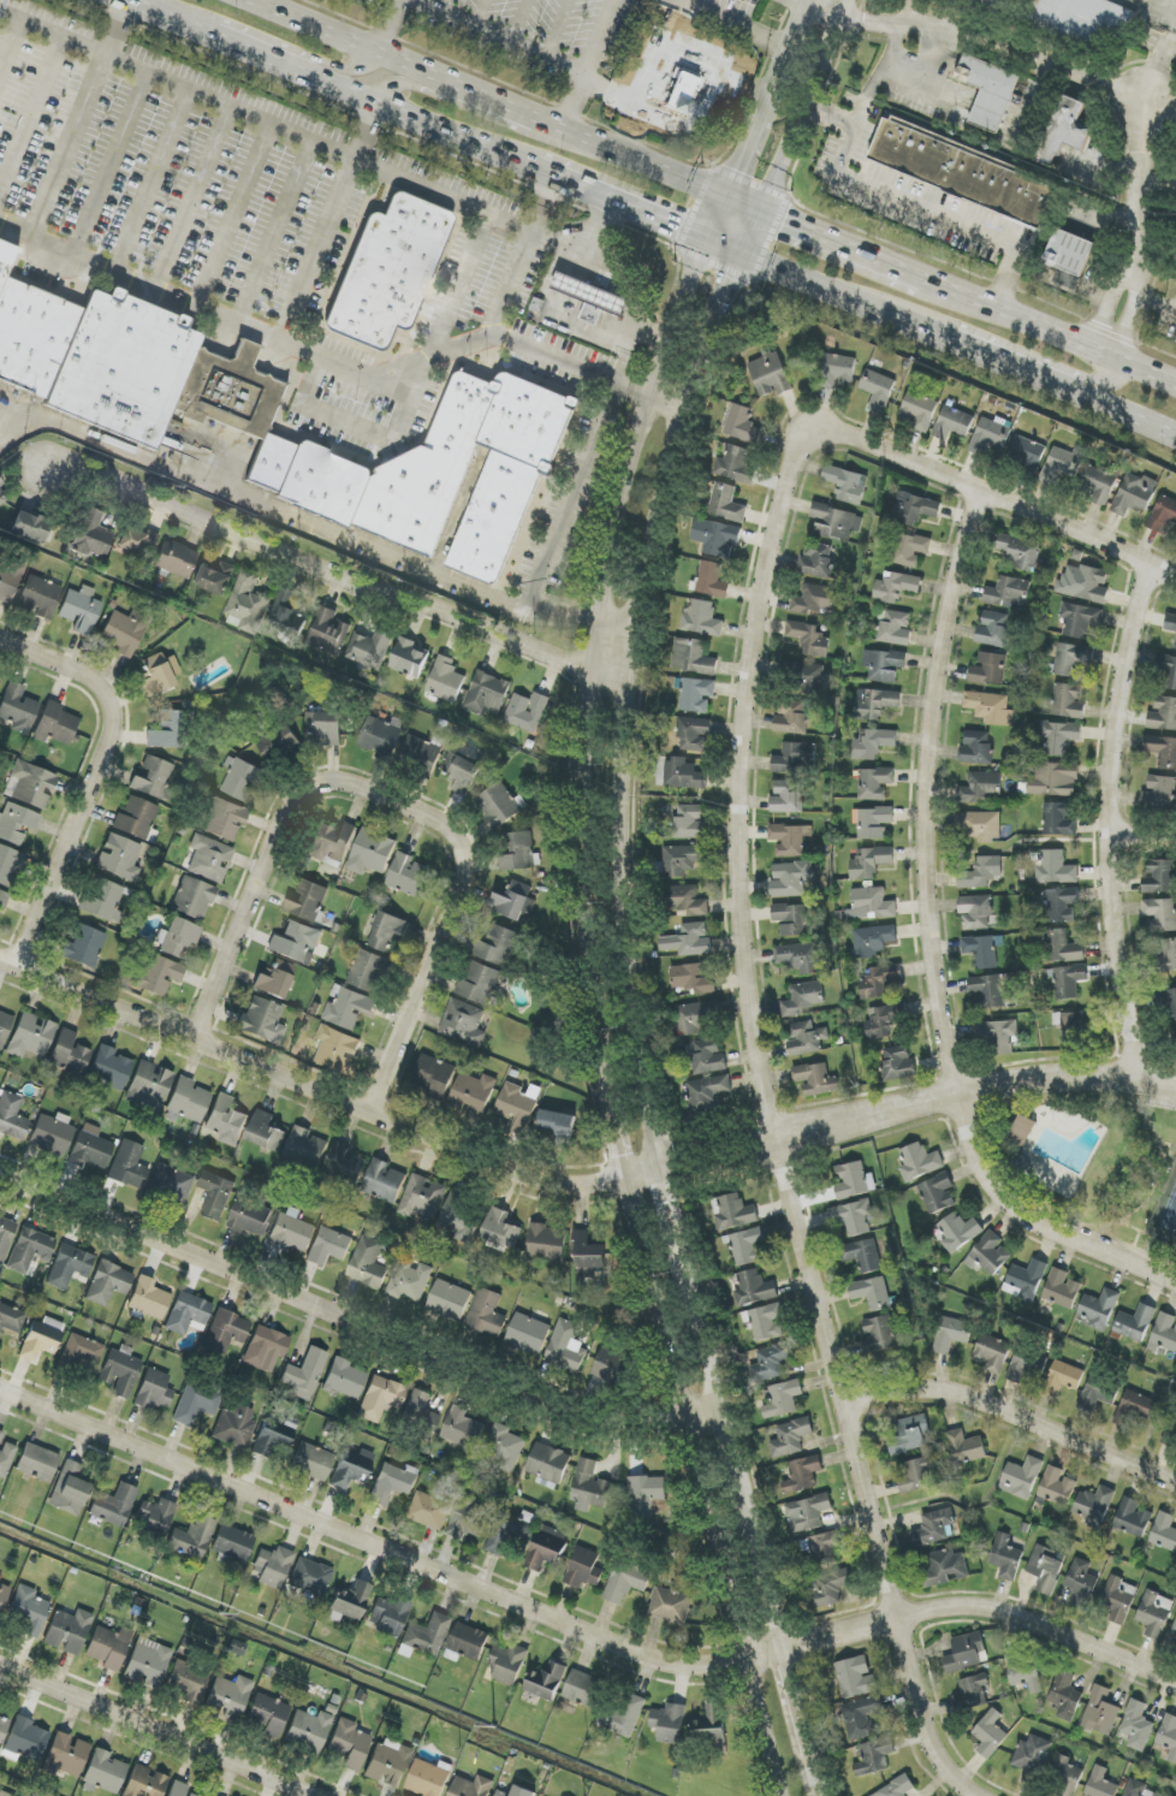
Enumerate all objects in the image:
building: (988, 2)
road: (1160, 5)
road: (910, 10)
road: (818, 11)
road: (844, 11)
road: (168, 18)
building: (1088, 20)
road: (735, 23)
road: (794, 23)
road: (390, 25)
road: (115, 26)
road: (500, 37)
road: (1000, 38)
road: (11, 47)
road: (368, 47)
road: (245, 52)
road: (1157, 59)
road: (331, 64)
road: (594, 64)
road: (776, 70)
road: (880, 72)
building: (988, 91)
road: (426, 94)
road: (510, 107)
road: (1164, 109)
road: (30, 111)
road: (406, 117)
road: (800, 117)
road: (367, 130)
building: (1065, 130)
road: (69, 140)
road: (332, 144)
road: (630, 158)
road: (111, 165)
road: (735, 168)
traffic signals: (736, 168)
road: (152, 179)
road: (1157, 185)
road: (1139, 188)
road: (195, 195)
road: (909, 200)
road: (743, 203)
road: (620, 207)
road: (236, 212)
traffic signals: (786, 221)
traffic signals: (675, 231)
road: (273, 235)
road: (844, 244)
road: (725, 251)
road: (315, 253)
building: (1069, 253)
building: (4, 257)
building: (388, 272)
road: (617, 275)
traffic signals: (735, 280)
road: (752, 280)
road: (732, 286)
building: (590, 294)
road: (837, 296)
building: (595, 307)
road: (1106, 307)
road: (1127, 315)
road: (1052, 330)
building: (31, 338)
road: (435, 338)
road: (445, 352)
road: (982, 355)
building: (121, 367)
building: (837, 371)
building: (770, 373)
road: (1082, 378)
building: (878, 390)
building: (230, 395)
road: (402, 403)
road: (1104, 409)
building: (919, 410)
road: (328, 413)
building: (954, 423)
building: (742, 425)
building: (990, 437)
building: (1027, 452)
building: (1063, 463)
building: (737, 464)
building: (435, 474)
building: (0, 484)
building: (847, 484)
building: (1098, 485)
road: (581, 490)
building: (1134, 494)
building: (1, 499)
road: (996, 499)
building: (726, 503)
building: (914, 509)
building: (1163, 514)
road: (302, 520)
building: (836, 522)
building: (30, 527)
building: (93, 537)
building: (717, 538)
building: (138, 541)
building: (910, 550)
building: (1021, 552)
building: (176, 559)
building: (816, 559)
road: (340, 568)
building: (215, 577)
building: (8, 580)
building: (712, 580)
building: (1092, 585)
building: (896, 587)
building: (1008, 592)
building: (40, 597)
building: (814, 599)
building: (249, 604)
building: (81, 610)
building: (289, 610)
building: (701, 620)
building: (1080, 620)
building: (1171, 626)
building: (896, 628)
building: (993, 629)
building: (123, 632)
building: (327, 632)
building: (809, 639)
building: (370, 648)
building: (693, 657)
building: (409, 658)
building: (1071, 658)
road: (598, 665)
building: (884, 665)
building: (988, 669)
building: (158, 674)
building: (1166, 674)
building: (807, 678)
building: (445, 680)
building: (0, 681)
building: (487, 694)
building: (696, 694)
building: (1069, 701)
building: (875, 703)
building: (990, 707)
building: (18, 709)
building: (527, 711)
building: (1163, 715)
building: (791, 717)
building: (57, 724)
building: (325, 727)
building: (166, 729)
building: (694, 733)
building: (381, 737)
building: (1061, 737)
building: (278, 743)
building: (872, 743)
building: (976, 748)
building: (1163, 751)
building: (421, 752)
building: (795, 758)
road: (107, 763)
building: (461, 772)
building: (684, 775)
building: (153, 776)
building: (243, 780)
building: (1053, 780)
building: (874, 783)
building: (30, 784)
building: (980, 787)
building: (1159, 793)
road: (400, 798)
building: (788, 798)
building: (499, 805)
building: (136, 818)
building: (225, 819)
building: (1061, 819)
building: (690, 822)
building: (16, 823)
building: (874, 823)
road: (1111, 824)
building: (980, 826)
building: (790, 840)
road: (1144, 840)
building: (332, 843)
building: (372, 852)
building: (519, 853)
building: (119, 858)
building: (209, 858)
building: (684, 858)
building: (871, 863)
building: (8, 865)
building: (1056, 869)
building: (981, 873)
building: (409, 876)
building: (1159, 877)
building: (791, 878)
building: (194, 899)
building: (4, 900)
building: (685, 900)
building: (102, 901)
building: (307, 901)
building: (515, 902)
building: (872, 905)
building: (1062, 905)
building: (976, 912)
building: (1162, 914)
building: (792, 919)
building: (387, 931)
building: (178, 937)
building: (689, 941)
building: (873, 941)
building: (296, 943)
building: (85, 946)
building: (498, 947)
road: (929, 947)
building: (1064, 948)
building: (981, 950)
building: (1168, 954)
building: (800, 956)
building: (369, 971)
building: (159, 974)
building: (274, 979)
building: (693, 979)
building: (879, 980)
building: (1068, 980)
building: (480, 984)
building: (987, 991)
building: (803, 998)
building: (1171, 1004)
building: (348, 1008)
road: (639, 1012)
building: (695, 1018)
building: (262, 1020)
building: (884, 1020)
building: (1076, 1023)
building: (464, 1024)
building: (4, 1027)
building: (30, 1036)
building: (1000, 1037)
building: (807, 1039)
building: (337, 1048)
building: (69, 1055)
building: (707, 1057)
building: (898, 1062)
building: (109, 1067)
building: (433, 1077)
building: (815, 1079)
road: (311, 1084)
building: (149, 1085)
building: (473, 1093)
building: (706, 1093)
building: (186, 1102)
building: (518, 1104)
road: (901, 1108)
building: (12, 1116)
building: (226, 1120)
building: (558, 1126)
road: (771, 1128)
building: (1023, 1128)
building: (266, 1132)
building: (52, 1134)
road: (624, 1139)
building: (90, 1148)
building: (305, 1149)
building: (920, 1162)
building: (345, 1163)
building: (129, 1166)
building: (854, 1180)
building: (384, 1181)
building: (171, 1185)
building: (937, 1193)
building: (215, 1195)
building: (422, 1197)
building: (733, 1211)
building: (250, 1216)
building: (462, 1217)
building: (853, 1217)
building: (501, 1229)
building: (956, 1232)
building: (290, 1234)
building: (6, 1237)
building: (547, 1244)
building: (328, 1246)
building: (746, 1246)
building: (30, 1249)
building: (988, 1255)
building: (589, 1256)
building: (863, 1256)
building: (367, 1263)
building: (69, 1267)
building: (1026, 1280)
building: (410, 1281)
building: (108, 1282)
building: (754, 1288)
building: (1062, 1288)
building: (872, 1293)
building: (148, 1298)
building: (450, 1300)
building: (1098, 1309)
building: (188, 1314)
building: (487, 1314)
building: (11, 1318)
road: (357, 1322)
building: (766, 1322)
building: (1135, 1323)
building: (225, 1332)
building: (528, 1334)
building: (879, 1334)
building: (951, 1334)
building: (1164, 1334)
building: (41, 1338)
road: (672, 1339)
building: (566, 1347)
building: (266, 1349)
building: (82, 1352)
building: (992, 1353)
building: (772, 1362)
building: (1027, 1365)
building: (610, 1367)
building: (121, 1371)
building: (305, 1374)
building: (346, 1379)
building: (1062, 1379)
building: (154, 1391)
building: (1097, 1395)
building: (381, 1398)
building: (783, 1399)
building: (195, 1404)
building: (1134, 1407)
road: (1017, 1411)
building: (420, 1412)
building: (234, 1427)
building: (462, 1428)
building: (1170, 1433)
building: (908, 1435)
building: (273, 1438)
building: (790, 1438)
building: (505, 1447)
building: (966, 1447)
building: (5, 1456)
building: (37, 1462)
building: (311, 1462)
building: (548, 1465)
building: (352, 1469)
building: (803, 1474)
building: (917, 1474)
building: (1021, 1477)
building: (392, 1483)
building: (589, 1487)
building: (1057, 1487)
building: (69, 1489)
building: (647, 1495)
building: (114, 1505)
building: (1094, 1506)
building: (429, 1511)
building: (158, 1512)
building: (807, 1513)
building: (1133, 1518)
building: (465, 1524)
building: (934, 1528)
building: (1164, 1531)
building: (503, 1535)
road: (372, 1536)
building: (192, 1537)
building: (232, 1542)
building: (826, 1546)
building: (547, 1548)
building: (1006, 1558)
building: (273, 1566)
building: (943, 1567)
building: (583, 1569)
building: (1046, 1569)
building: (310, 1577)
building: (626, 1581)
road: (730, 1581)
building: (1081, 1583)
building: (830, 1587)
building: (4, 1595)
building: (1119, 1600)
building: (349, 1602)
building: (671, 1606)
road: (966, 1608)
building: (29, 1611)
building: (1154, 1613)
building: (390, 1614)
building: (67, 1631)
building: (424, 1636)
building: (1172, 1636)
building: (465, 1642)
building: (107, 1648)
building: (967, 1653)
building: (148, 1664)
building: (507, 1665)
building: (1024, 1672)
building: (856, 1678)
building: (189, 1682)
building: (547, 1682)
building: (584, 1689)
building: (974, 1689)
building: (1065, 1695)
building: (228, 1697)
road: (798, 1708)
building: (1100, 1712)
building: (624, 1713)
building: (268, 1714)
building: (861, 1717)
building: (669, 1723)
building: (1136, 1725)
building: (2, 1726)
road: (162, 1727)
building: (712, 1727)
road: (766, 1729)
building: (309, 1730)
building: (990, 1733)
building: (1169, 1736)
building: (349, 1744)
building: (65, 1755)
building: (874, 1756)
building: (1032, 1759)
building: (388, 1762)
building: (105, 1773)
building: (1068, 1776)
building: (429, 1778)
road: (816, 1779)
building: (144, 1783)
building: (1100, 1784)
building: (471, 1786)
building: (897, 1788)
building: (179, 1789)
building: (1138, 1789)
building: (517, 1792)
building: (4, 1794)
building: (213, 1795)

